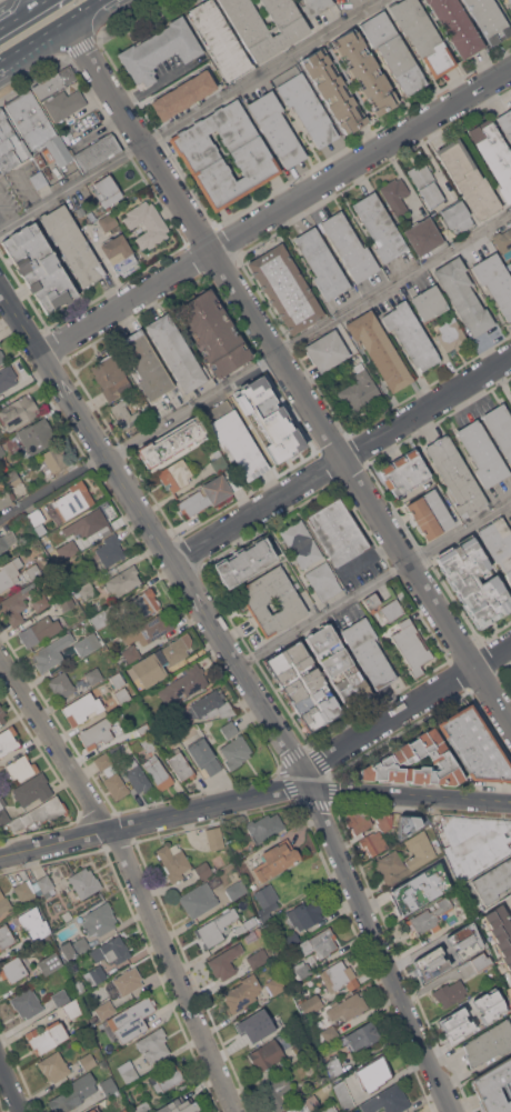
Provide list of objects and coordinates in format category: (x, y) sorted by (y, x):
building: (509, 0)
building: (314, 6)
road: (21, 12)
building: (488, 19)
road: (131, 20)
building: (457, 26)
road: (53, 32)
building: (422, 34)
building: (220, 39)
road: (80, 46)
building: (264, 47)
building: (159, 50)
building: (392, 51)
building: (363, 70)
road: (33, 79)
building: (333, 90)
building: (183, 91)
building: (59, 93)
building: (304, 104)
road: (190, 116)
building: (505, 123)
building: (37, 127)
building: (275, 128)
building: (10, 146)
building: (97, 151)
building: (197, 152)
building: (493, 153)
building: (39, 160)
building: (38, 179)
building: (469, 179)
building: (425, 182)
building: (107, 190)
building: (395, 196)
road: (277, 211)
building: (458, 214)
road: (3, 219)
building: (108, 221)
building: (147, 223)
building: (379, 227)
building: (423, 234)
building: (503, 241)
building: (71, 244)
building: (349, 247)
building: (118, 252)
building: (321, 263)
building: (509, 264)
building: (39, 267)
building: (495, 281)
building: (285, 288)
road: (23, 293)
building: (463, 295)
building: (428, 301)
building: (213, 332)
road: (309, 334)
building: (410, 334)
building: (451, 334)
road: (52, 345)
building: (379, 349)
building: (325, 350)
building: (177, 352)
building: (1, 357)
building: (146, 364)
road: (290, 375)
building: (110, 377)
building: (7, 378)
building: (359, 389)
building: (510, 390)
building: (19, 412)
building: (124, 413)
building: (500, 427)
building: (36, 437)
building: (236, 439)
building: (172, 441)
road: (121, 448)
building: (1, 450)
building: (482, 453)
building: (53, 460)
building: (218, 460)
road: (342, 460)
building: (403, 472)
building: (176, 473)
building: (455, 475)
building: (12, 478)
road: (53, 488)
building: (208, 494)
building: (6, 498)
building: (72, 500)
building: (429, 513)
building: (36, 517)
building: (93, 522)
building: (338, 530)
road: (158, 535)
building: (7, 540)
building: (498, 542)
building: (301, 543)
road: (141, 548)
building: (68, 549)
building: (109, 550)
road: (189, 553)
building: (0, 555)
building: (244, 560)
building: (33, 571)
building: (9, 572)
building: (123, 578)
building: (323, 580)
building: (473, 582)
road: (374, 583)
building: (87, 591)
building: (257, 601)
building: (371, 601)
building: (40, 602)
building: (67, 602)
building: (17, 603)
building: (142, 605)
building: (391, 609)
building: (104, 615)
building: (152, 628)
building: (39, 630)
building: (87, 643)
building: (411, 645)
building: (52, 652)
building: (368, 652)
building: (131, 653)
road: (252, 657)
building: (122, 661)
building: (159, 661)
building: (337, 664)
building: (93, 674)
building: (510, 677)
building: (510, 679)
building: (117, 680)
building: (183, 683)
building: (60, 684)
building: (303, 685)
building: (123, 694)
building: (211, 705)
building: (81, 708)
road: (395, 713)
building: (2, 715)
building: (143, 728)
building: (229, 728)
building: (167, 731)
building: (97, 732)
building: (8, 740)
building: (147, 743)
building: (474, 745)
building: (137, 747)
road: (305, 749)
building: (236, 751)
building: (118, 752)
building: (204, 755)
building: (399, 755)
building: (180, 764)
building: (20, 767)
building: (158, 773)
building: (111, 775)
building: (137, 775)
road: (331, 775)
building: (32, 789)
road: (410, 794)
road: (309, 801)
road: (423, 812)
building: (33, 813)
road: (154, 819)
building: (358, 820)
building: (383, 820)
building: (408, 825)
building: (264, 827)
building: (471, 831)
building: (214, 838)
building: (373, 841)
building: (419, 849)
building: (277, 859)
building: (173, 860)
building: (471, 860)
building: (391, 866)
building: (204, 869)
road: (132, 876)
building: (493, 881)
building: (84, 882)
building: (254, 884)
building: (43, 885)
building: (420, 888)
building: (23, 889)
building: (237, 889)
building: (199, 899)
building: (267, 900)
building: (3, 902)
building: (510, 905)
building: (308, 912)
building: (67, 915)
building: (429, 916)
building: (99, 919)
building: (34, 922)
building: (248, 922)
building: (216, 926)
building: (500, 933)
building: (251, 935)
building: (4, 936)
building: (292, 938)
building: (464, 940)
building: (319, 943)
building: (40, 945)
building: (74, 946)
building: (111, 950)
road: (379, 950)
road: (364, 955)
building: (258, 958)
road: (399, 958)
building: (226, 961)
building: (49, 963)
building: (430, 963)
building: (474, 964)
building: (13, 969)
building: (303, 969)
building: (96, 975)
building: (339, 975)
building: (128, 980)
building: (275, 984)
building: (79, 985)
building: (242, 992)
building: (449, 992)
building: (61, 998)
building: (27, 1003)
building: (310, 1003)
building: (489, 1005)
building: (347, 1008)
building: (72, 1009)
building: (106, 1009)
building: (132, 1013)
building: (284, 1016)
building: (455, 1025)
building: (251, 1029)
building: (330, 1032)
building: (362, 1035)
building: (47, 1036)
building: (489, 1042)
building: (153, 1044)
building: (267, 1054)
building: (88, 1060)
building: (333, 1065)
building: (53, 1066)
building: (128, 1071)
building: (374, 1072)
building: (168, 1078)
road: (11, 1084)
building: (109, 1085)
building: (493, 1086)
building: (278, 1092)
building: (74, 1093)
building: (340, 1099)
building: (388, 1100)
building: (305, 1104)
building: (179, 1105)
building: (142, 1106)
building: (93, 1110)
building: (123, 1110)
building: (132, 1111)

